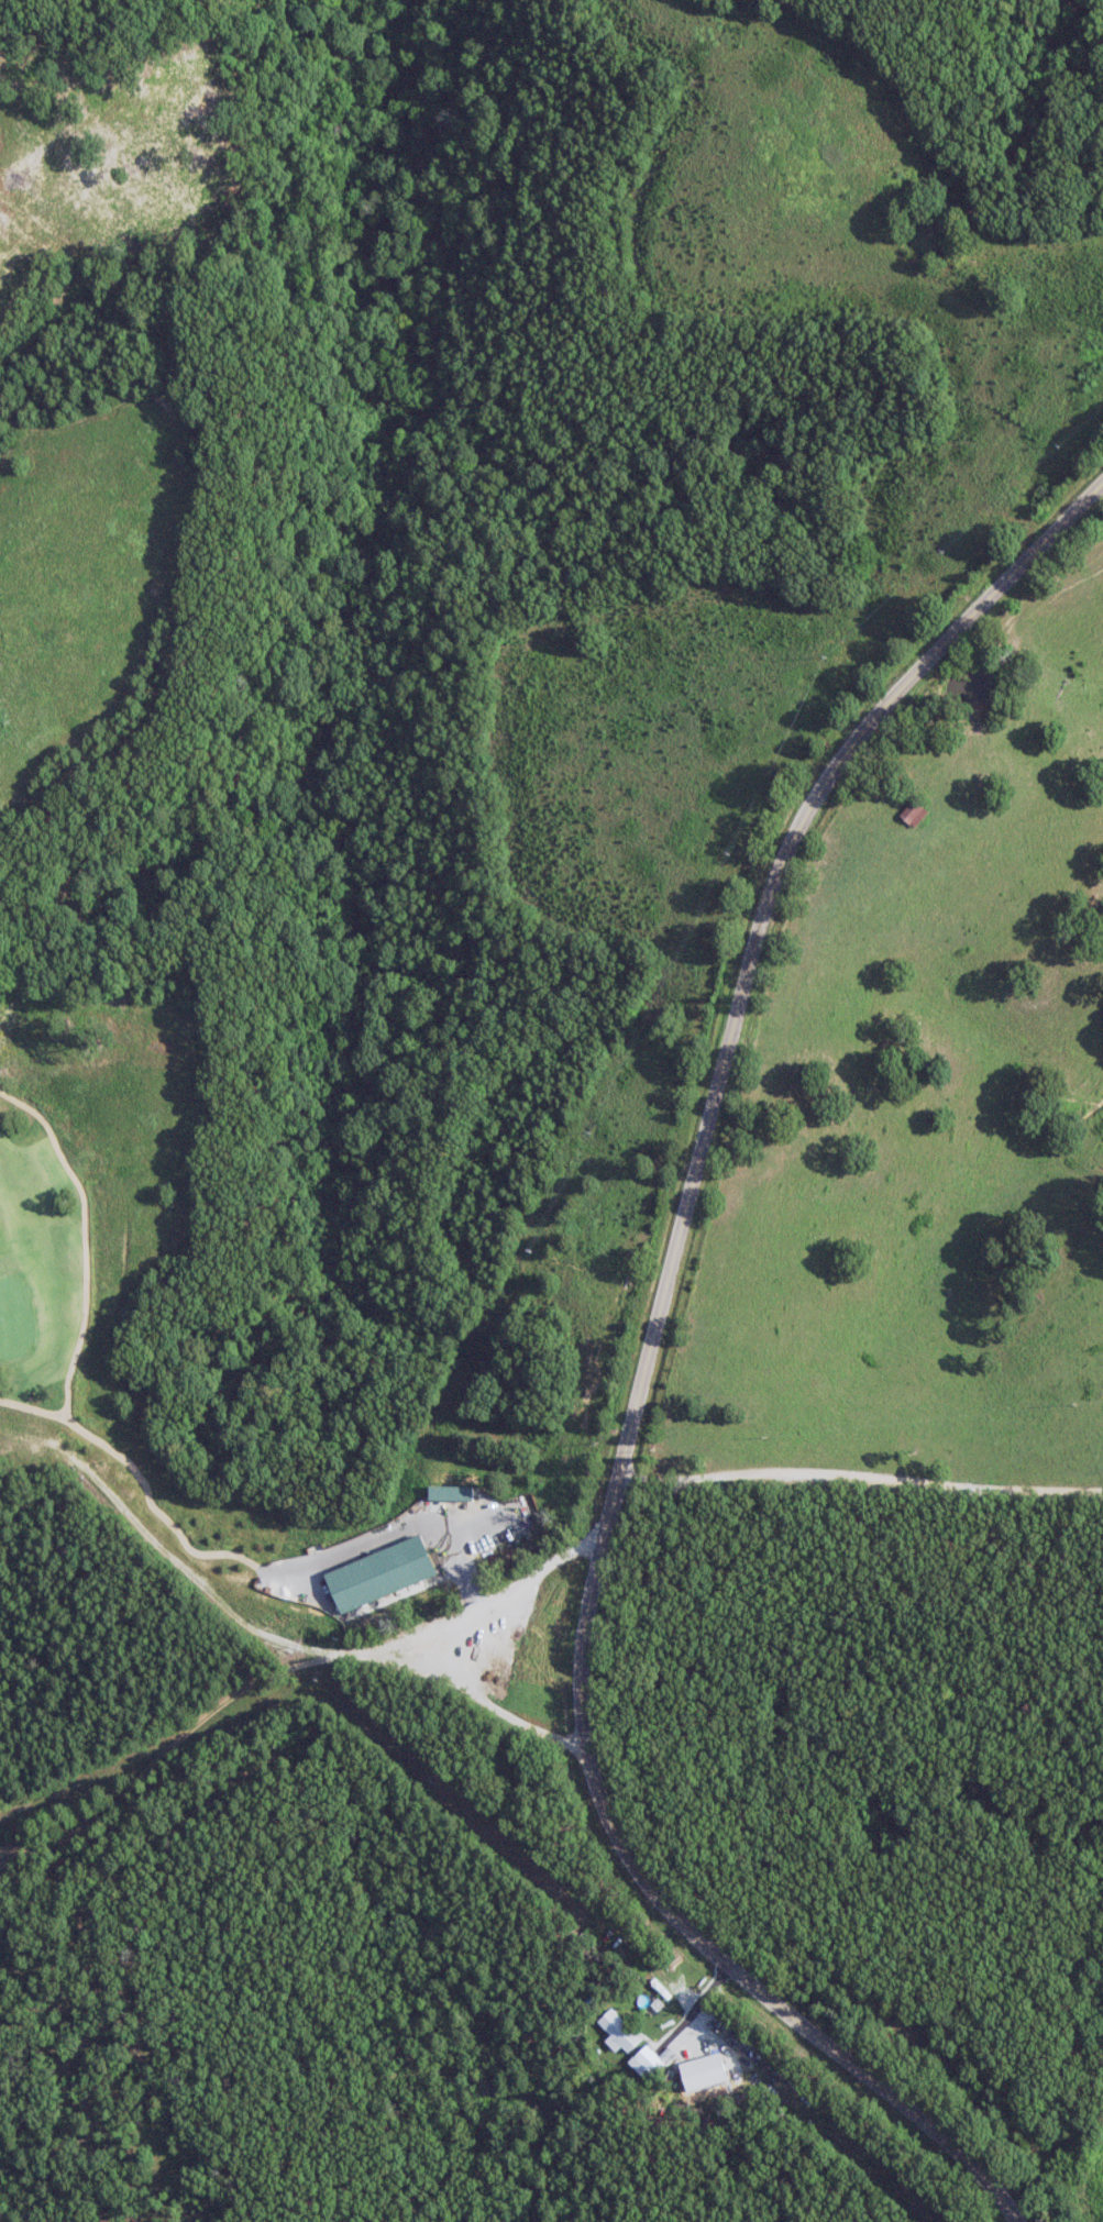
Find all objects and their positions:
road: (643, 1374)
road: (859, 1477)
building: (450, 1492)
building: (377, 1573)
road: (473, 1645)
road: (375, 1754)
road: (695, 2007)
building: (617, 2032)
building: (644, 2061)

